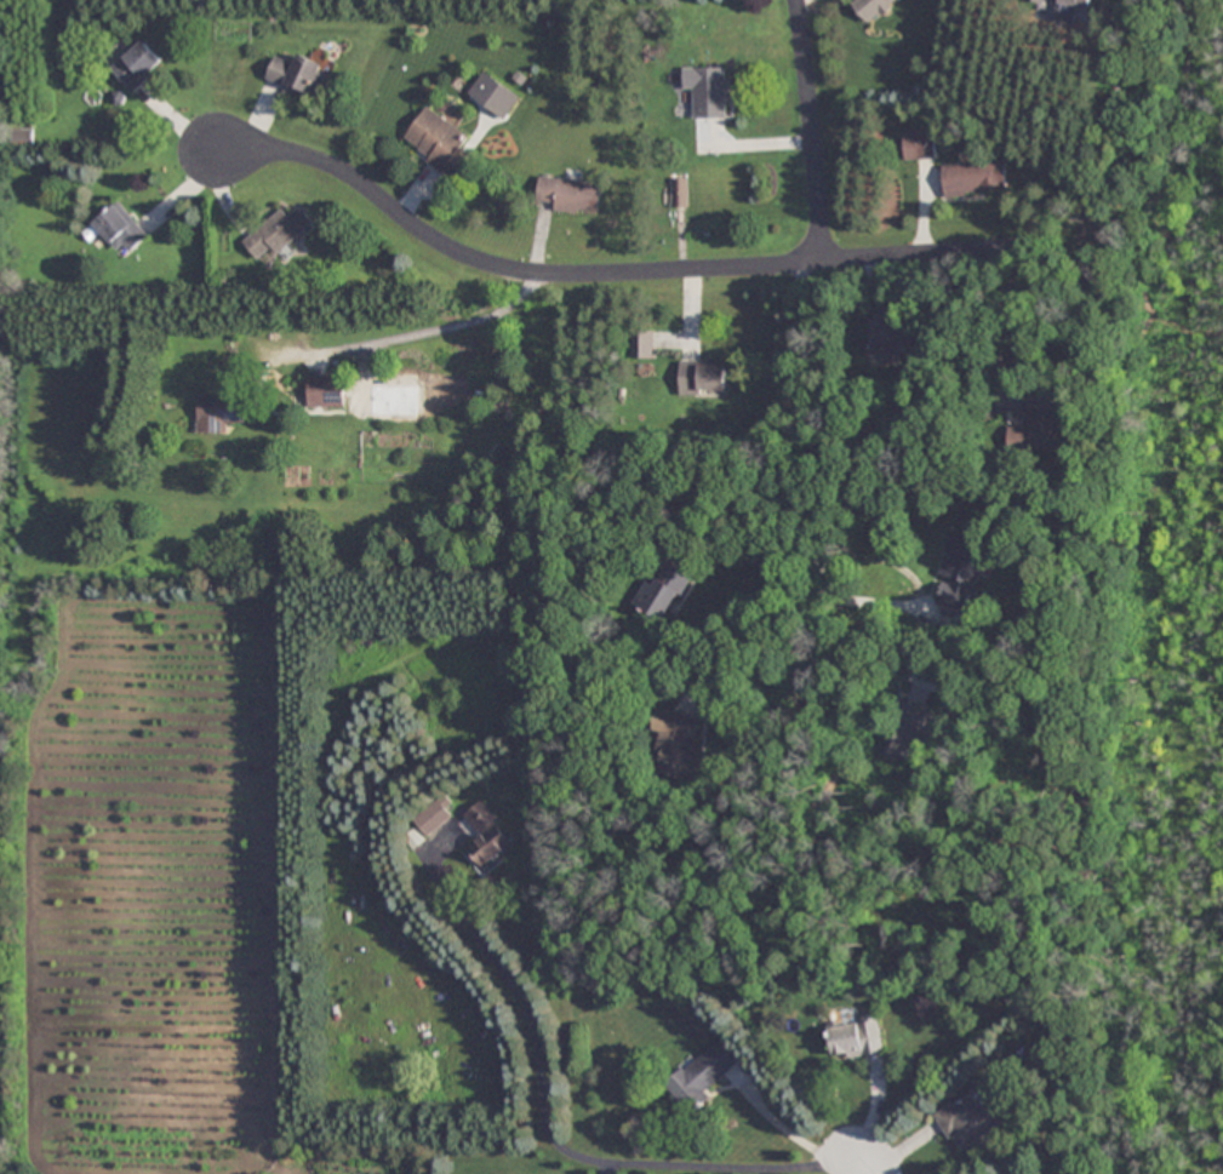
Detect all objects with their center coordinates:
building: (1074, 2)
building: (875, 8)
building: (139, 65)
building: (301, 74)
building: (708, 92)
road: (813, 130)
building: (439, 142)
building: (921, 145)
building: (978, 179)
building: (570, 195)
building: (121, 229)
building: (280, 233)
road: (921, 251)
road: (495, 263)
building: (680, 325)
building: (705, 377)
building: (327, 390)
building: (219, 412)
building: (1047, 423)
road: (808, 476)
building: (966, 571)
building: (667, 590)
building: (487, 836)
building: (853, 1033)
building: (701, 1076)
building: (971, 1119)
road: (867, 1166)

